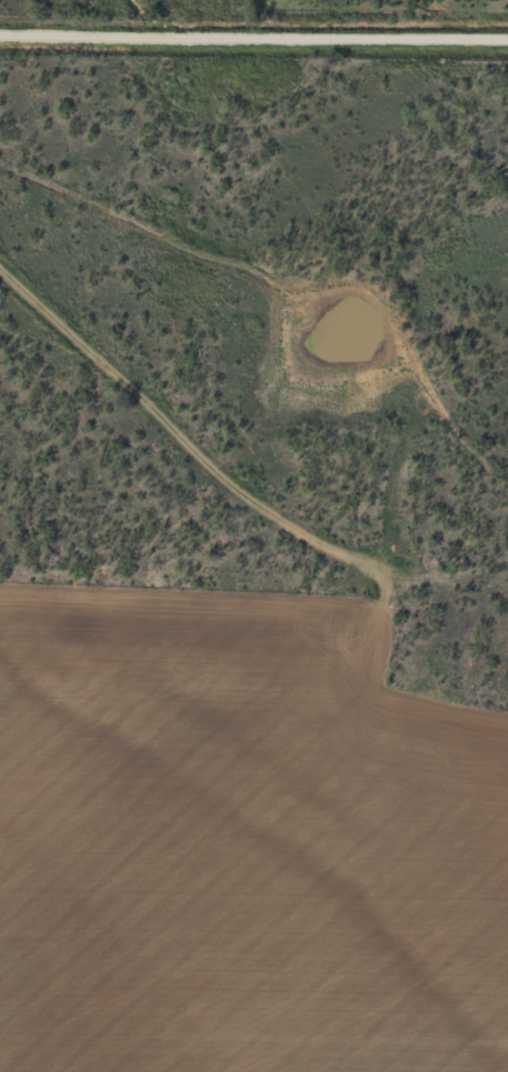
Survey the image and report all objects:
road: (253, 34)
road: (200, 471)

